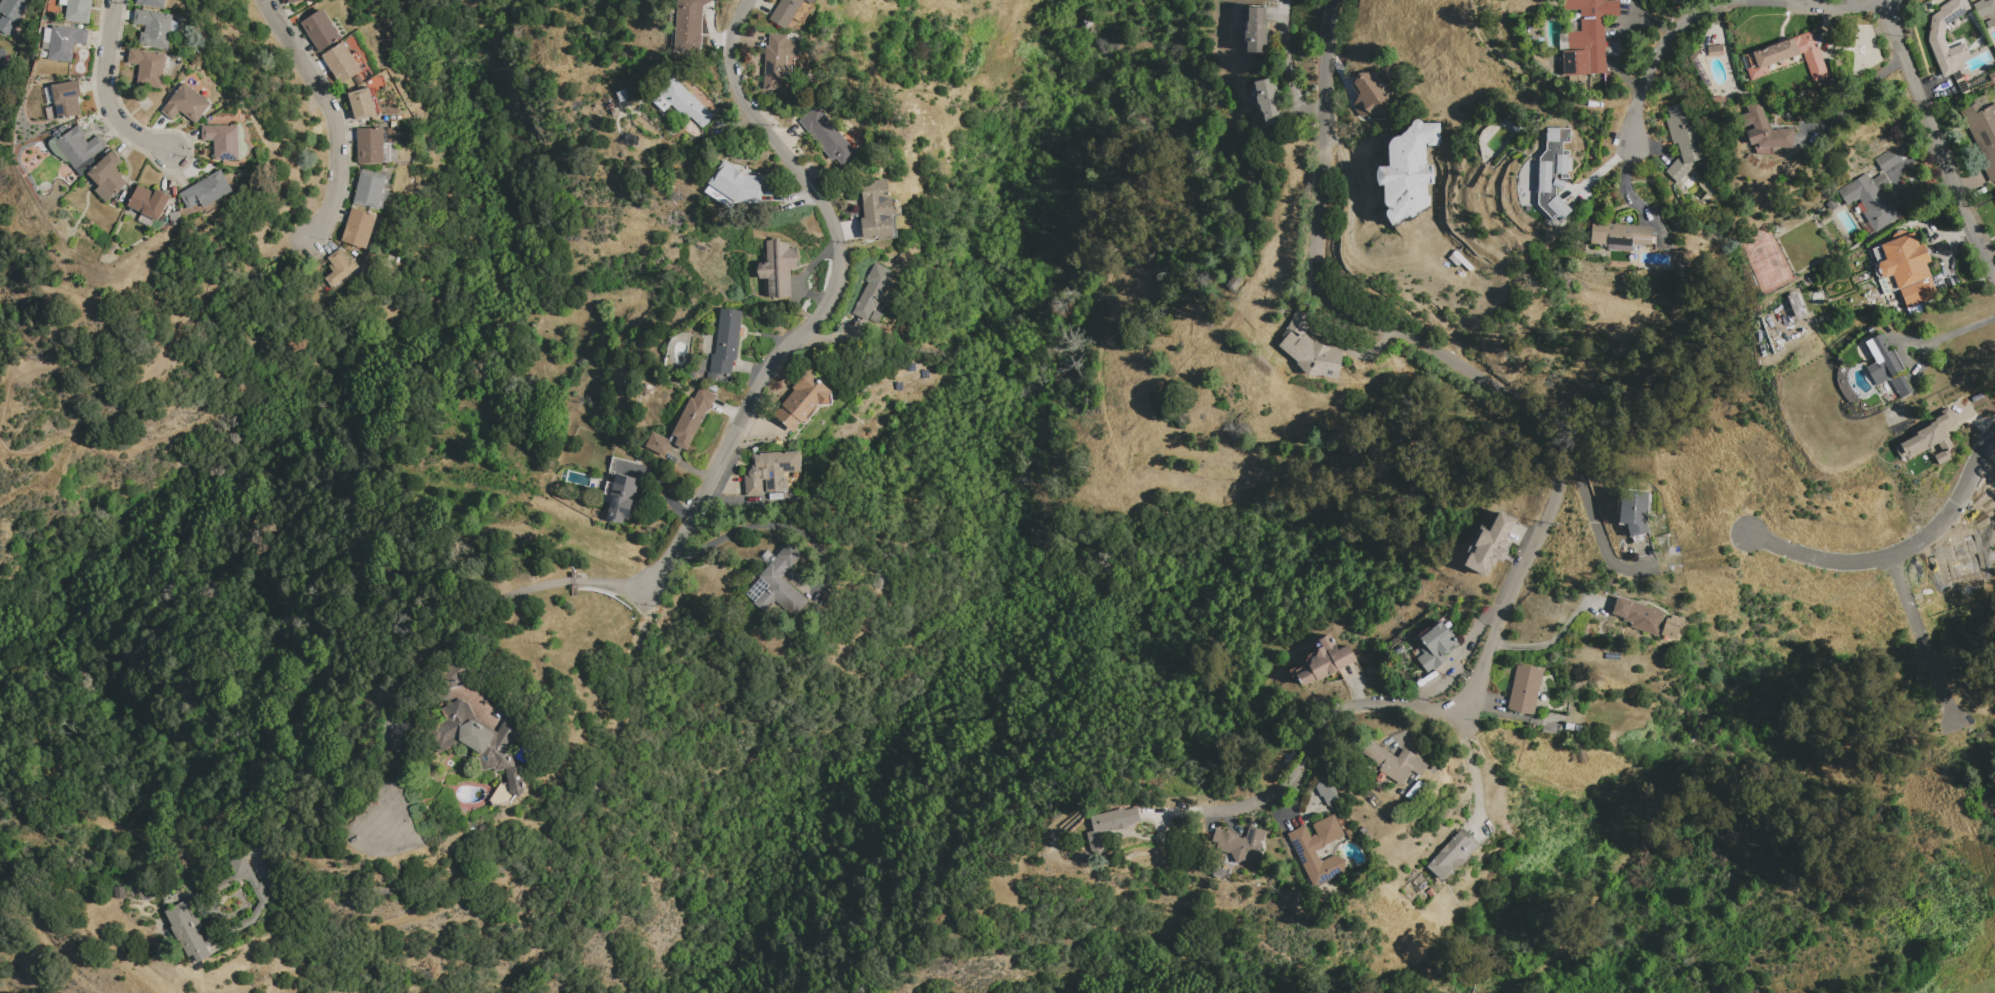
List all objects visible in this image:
building: (290, 1)
building: (810, 1)
building: (62, 2)
building: (151, 3)
road: (1719, 7)
building: (1984, 7)
building: (13, 8)
building: (78, 11)
building: (786, 12)
building: (6, 24)
building: (155, 28)
building: (690, 28)
building: (1254, 28)
building: (319, 30)
building: (1588, 36)
building: (46, 38)
building: (1936, 39)
building: (65, 42)
building: (1715, 50)
building: (1, 53)
building: (1694, 54)
building: (1789, 56)
building: (359, 59)
building: (341, 63)
building: (776, 63)
building: (147, 67)
road: (1288, 69)
building: (1992, 78)
road: (112, 89)
building: (1369, 96)
road: (1855, 96)
building: (66, 99)
building: (1718, 100)
building: (1267, 101)
building: (185, 103)
building: (363, 103)
building: (687, 103)
road: (337, 118)
building: (1765, 129)
building: (1982, 133)
building: (827, 136)
building: (1683, 140)
road: (1939, 140)
building: (222, 141)
building: (368, 144)
building: (57, 147)
building: (79, 149)
building: (1888, 160)
building: (1409, 172)
building: (107, 176)
building: (1551, 177)
building: (1527, 180)
building: (736, 184)
road: (1623, 184)
building: (371, 189)
building: (206, 190)
building: (1871, 199)
building: (1832, 204)
building: (148, 205)
building: (877, 209)
building: (174, 216)
building: (359, 227)
building: (1620, 235)
building: (1460, 260)
building: (340, 267)
building: (778, 267)
building: (1908, 268)
building: (1233, 282)
building: (872, 291)
building: (1797, 305)
road: (1953, 333)
road: (808, 334)
building: (726, 342)
building: (1310, 349)
building: (1886, 365)
building: (711, 376)
building: (802, 401)
building: (692, 417)
building: (1400, 437)
building: (1931, 437)
building: (657, 444)
building: (769, 472)
road: (1560, 477)
building: (620, 497)
building: (772, 503)
building: (1633, 511)
road: (1593, 520)
road: (764, 526)
building: (1490, 546)
road: (1900, 552)
building: (881, 578)
building: (777, 584)
building: (1639, 616)
building: (1672, 627)
road: (1553, 641)
road: (1921, 641)
road: (435, 643)
building: (1435, 645)
building: (1324, 661)
building: (1524, 690)
building: (1569, 727)
building: (1578, 728)
building: (482, 740)
building: (1392, 762)
road: (1472, 765)
building: (1380, 777)
building: (1326, 792)
road: (1673, 801)
building: (1109, 825)
building: (1364, 832)
building: (1349, 834)
road: (571, 840)
building: (1240, 843)
building: (1318, 849)
building: (1452, 854)
building: (260, 893)
building: (189, 931)
park: (1954, 950)

